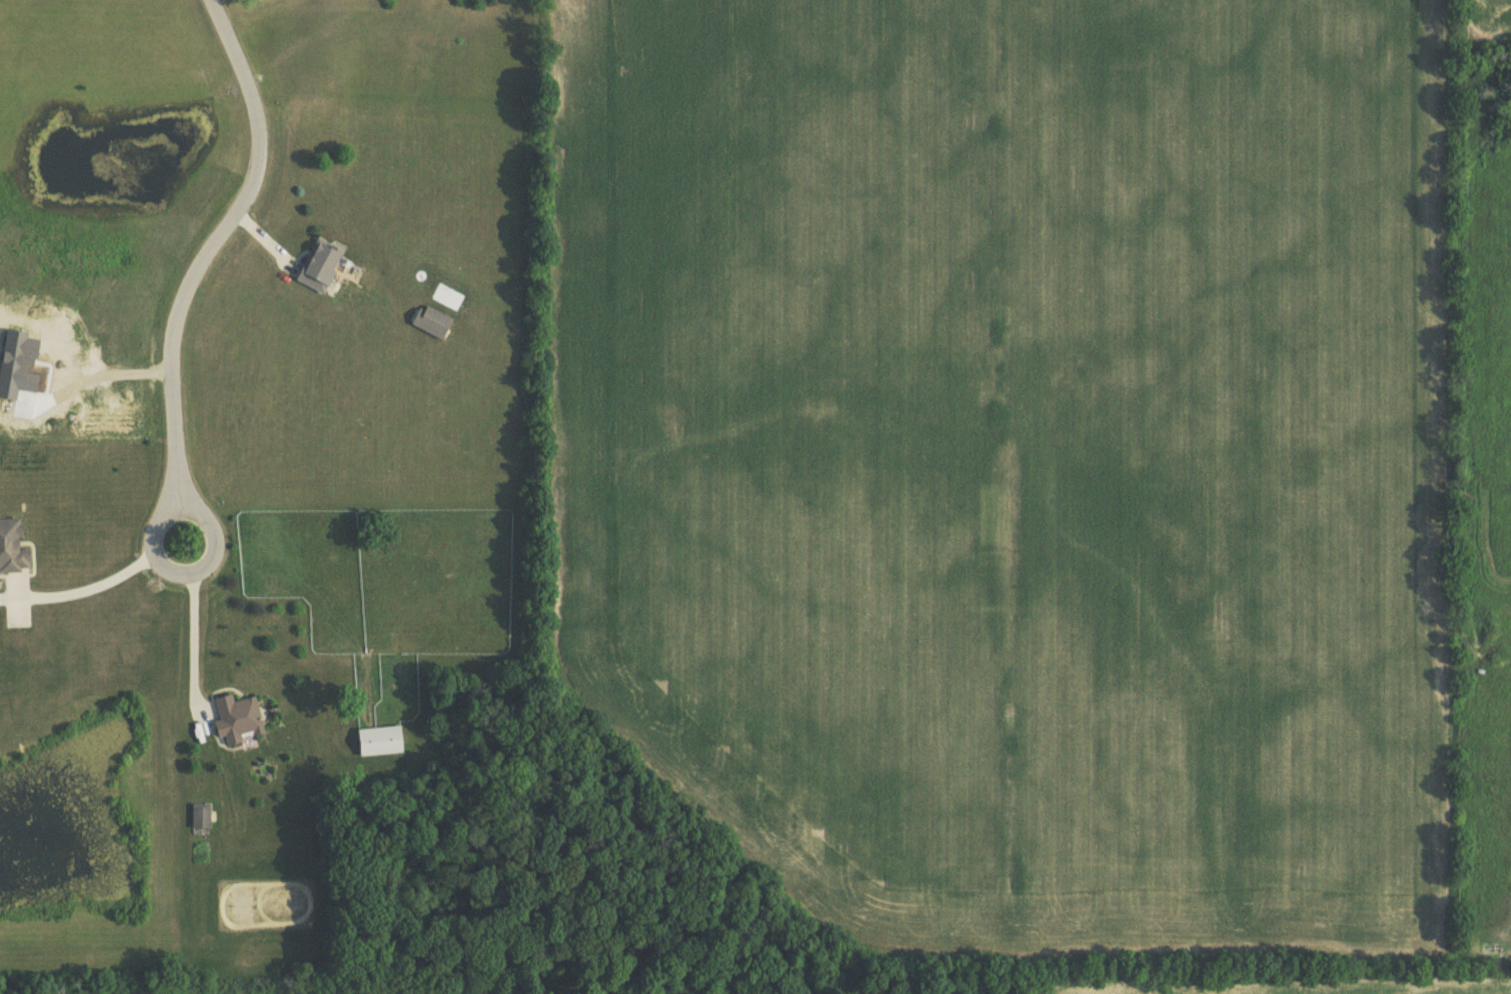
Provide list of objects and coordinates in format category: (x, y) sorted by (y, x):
road: (218, 243)
building: (318, 253)
building: (431, 321)
road: (105, 362)
road: (151, 529)
road: (80, 581)
road: (191, 641)
building: (235, 706)
road: (1478, 746)
building: (199, 804)

